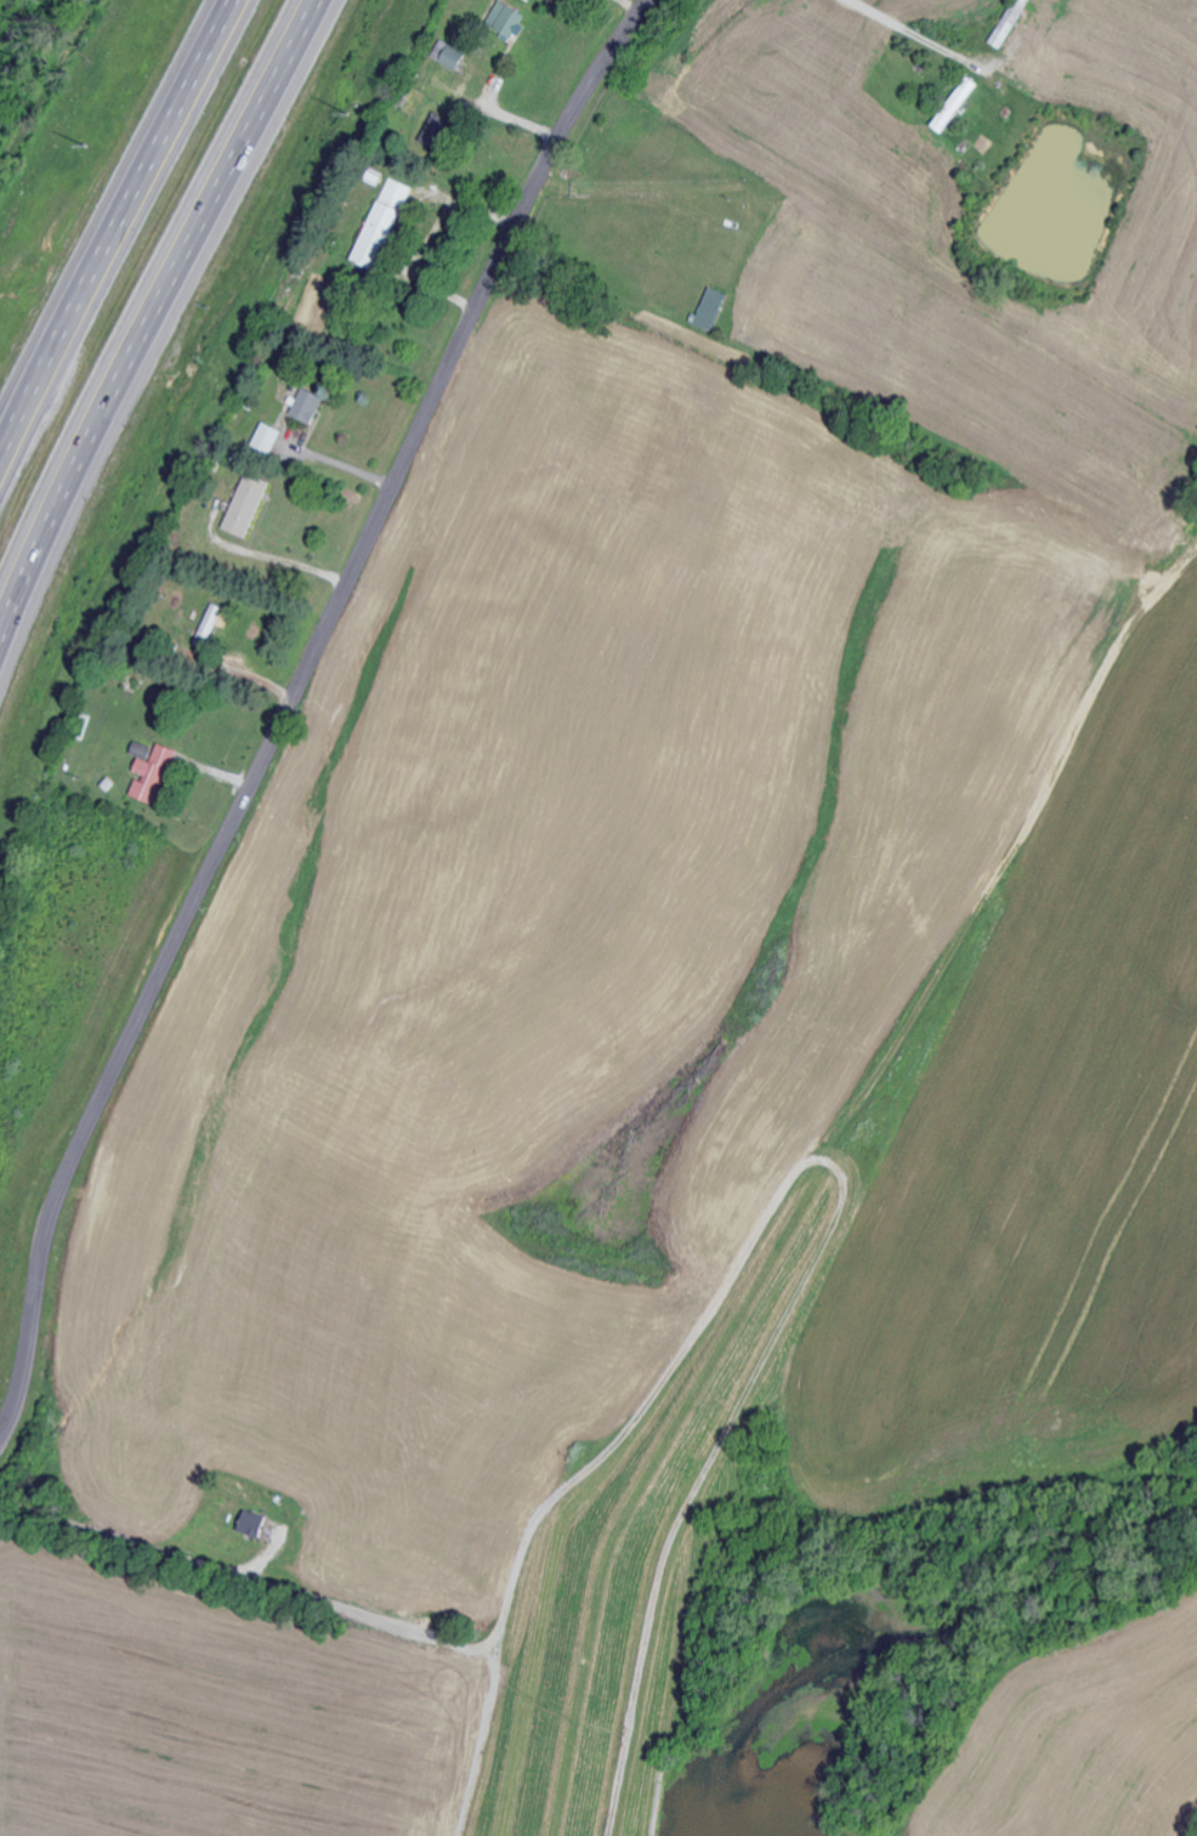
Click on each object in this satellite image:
building: (507, 17)
building: (1010, 22)
road: (917, 36)
building: (449, 52)
building: (384, 222)
road: (112, 226)
road: (151, 314)
building: (311, 404)
building: (268, 436)
road: (331, 460)
building: (249, 504)
road: (283, 559)
building: (210, 624)
road: (289, 696)
building: (154, 773)
building: (255, 1523)
dam: (642, 1545)
road: (195, 1554)

